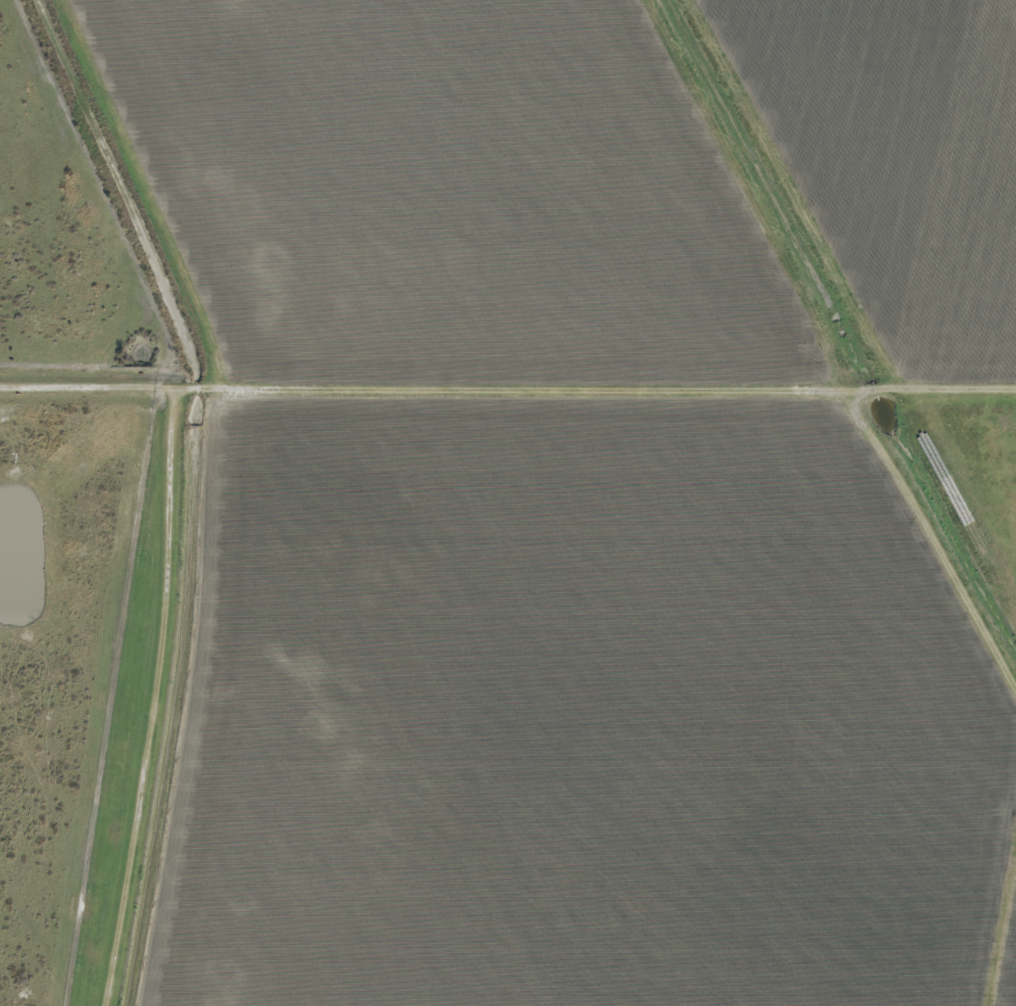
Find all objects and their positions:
road: (508, 392)
road: (934, 543)
road: (162, 699)

